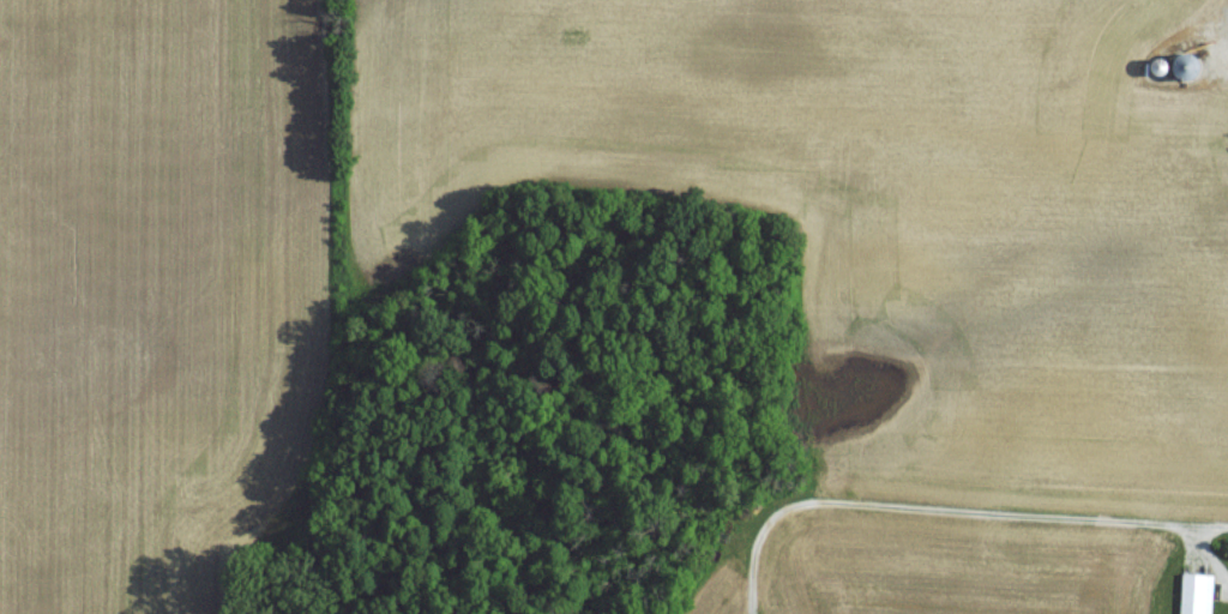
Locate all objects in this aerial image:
building: (1191, 594)

